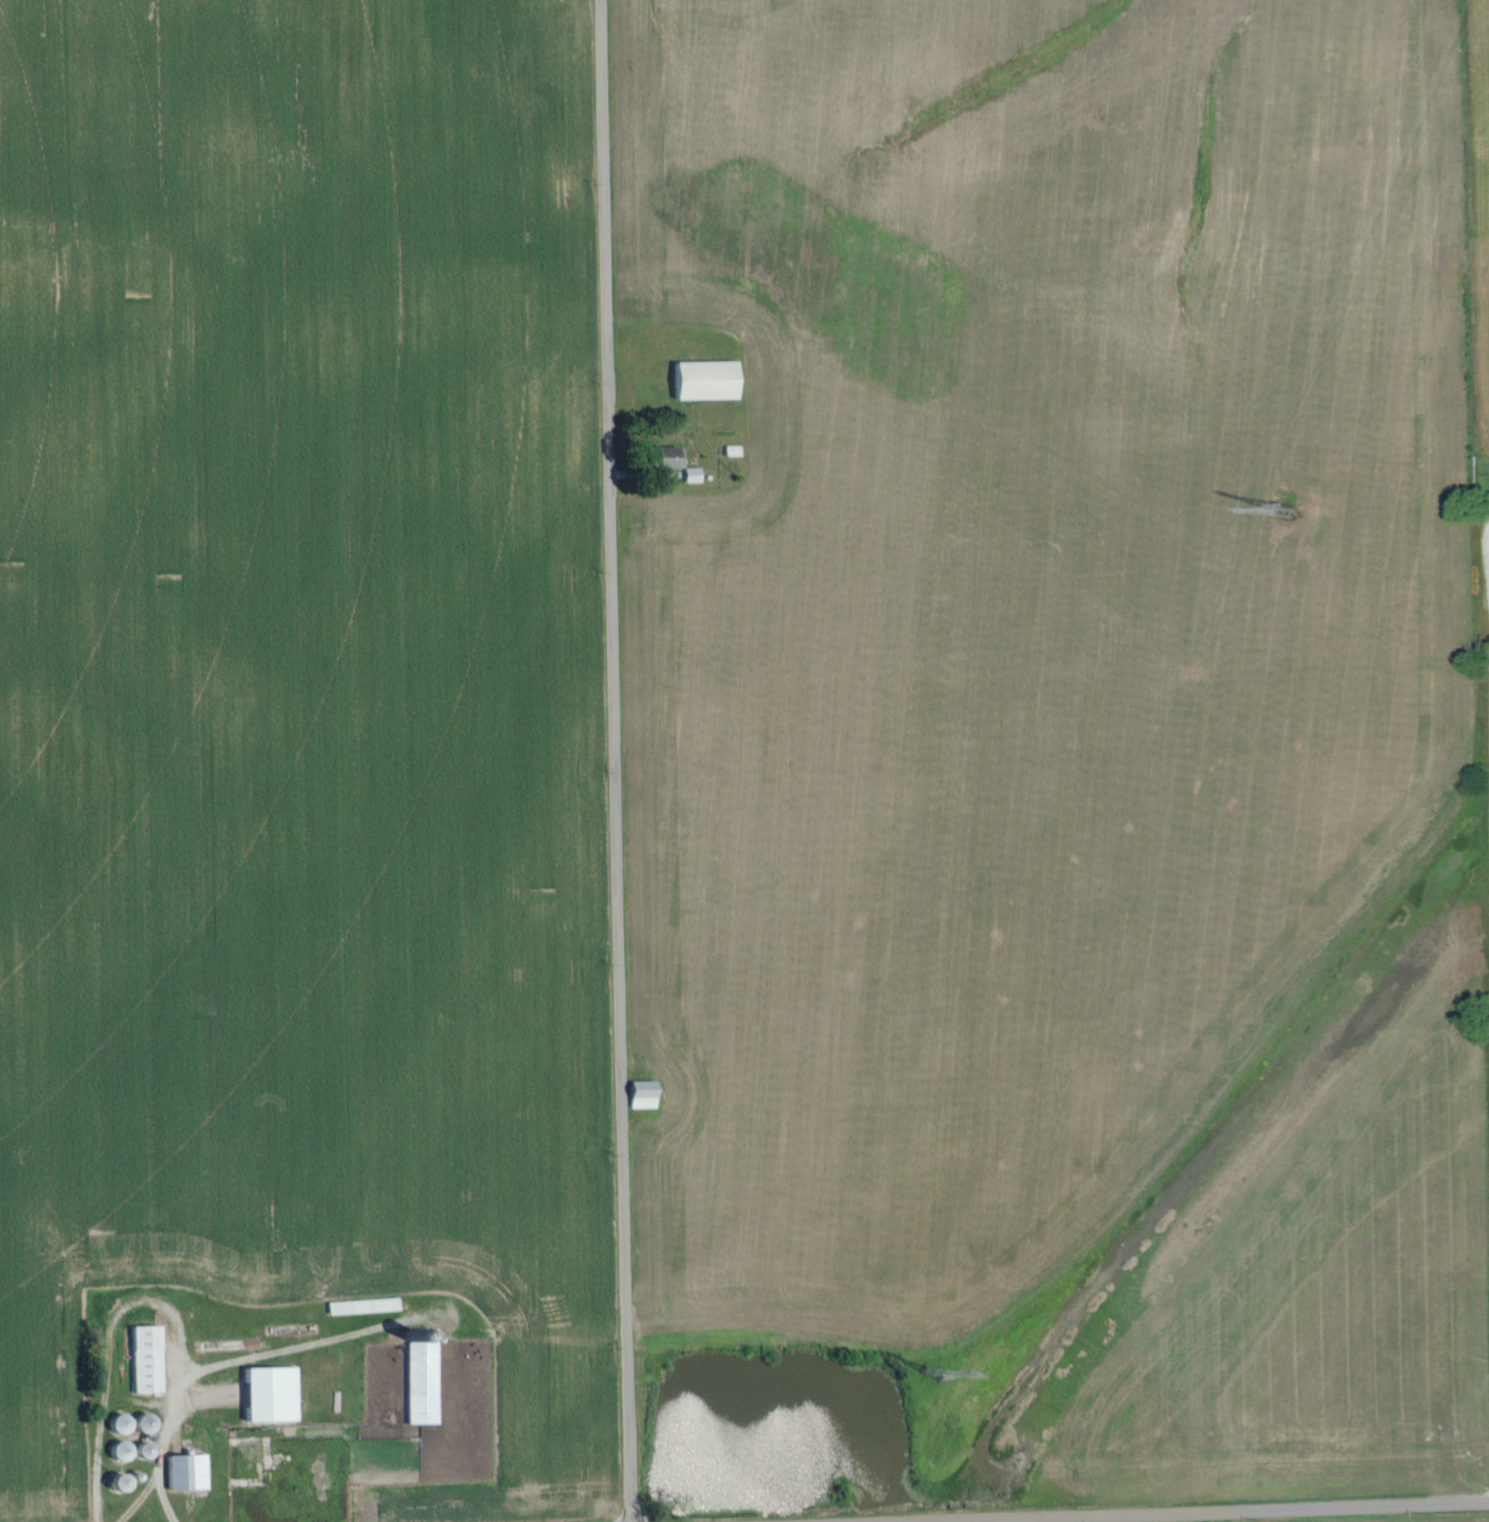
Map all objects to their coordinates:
building: (706, 381)
road: (612, 761)
building: (644, 1094)
building: (148, 1358)
building: (423, 1376)
building: (272, 1394)
road: (130, 1411)
building: (188, 1472)
road: (1279, 1513)

